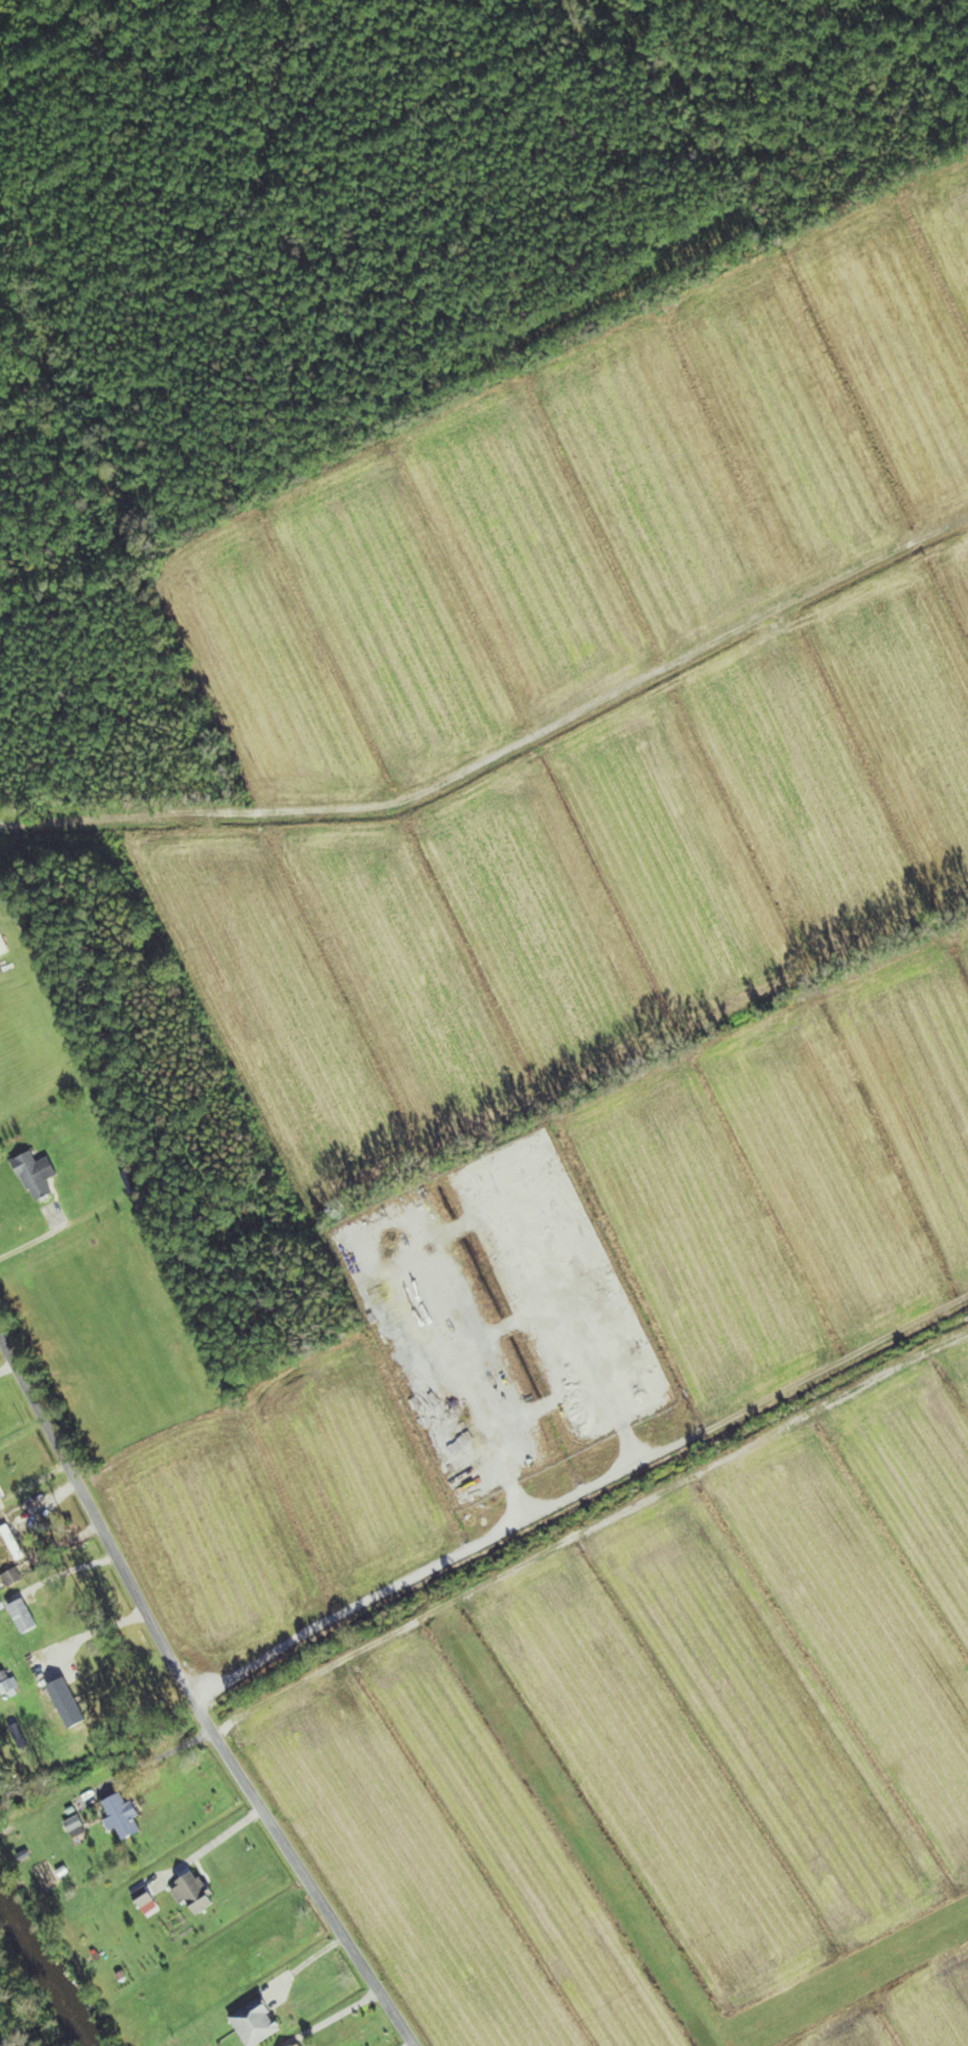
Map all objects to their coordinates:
building: (4, 944)
building: (40, 1175)
building: (133, 1181)
building: (1, 1495)
building: (27, 1616)
road: (193, 1697)
building: (71, 1703)
building: (128, 1816)
building: (79, 1826)
building: (201, 1893)
building: (261, 2022)
building: (303, 2045)

